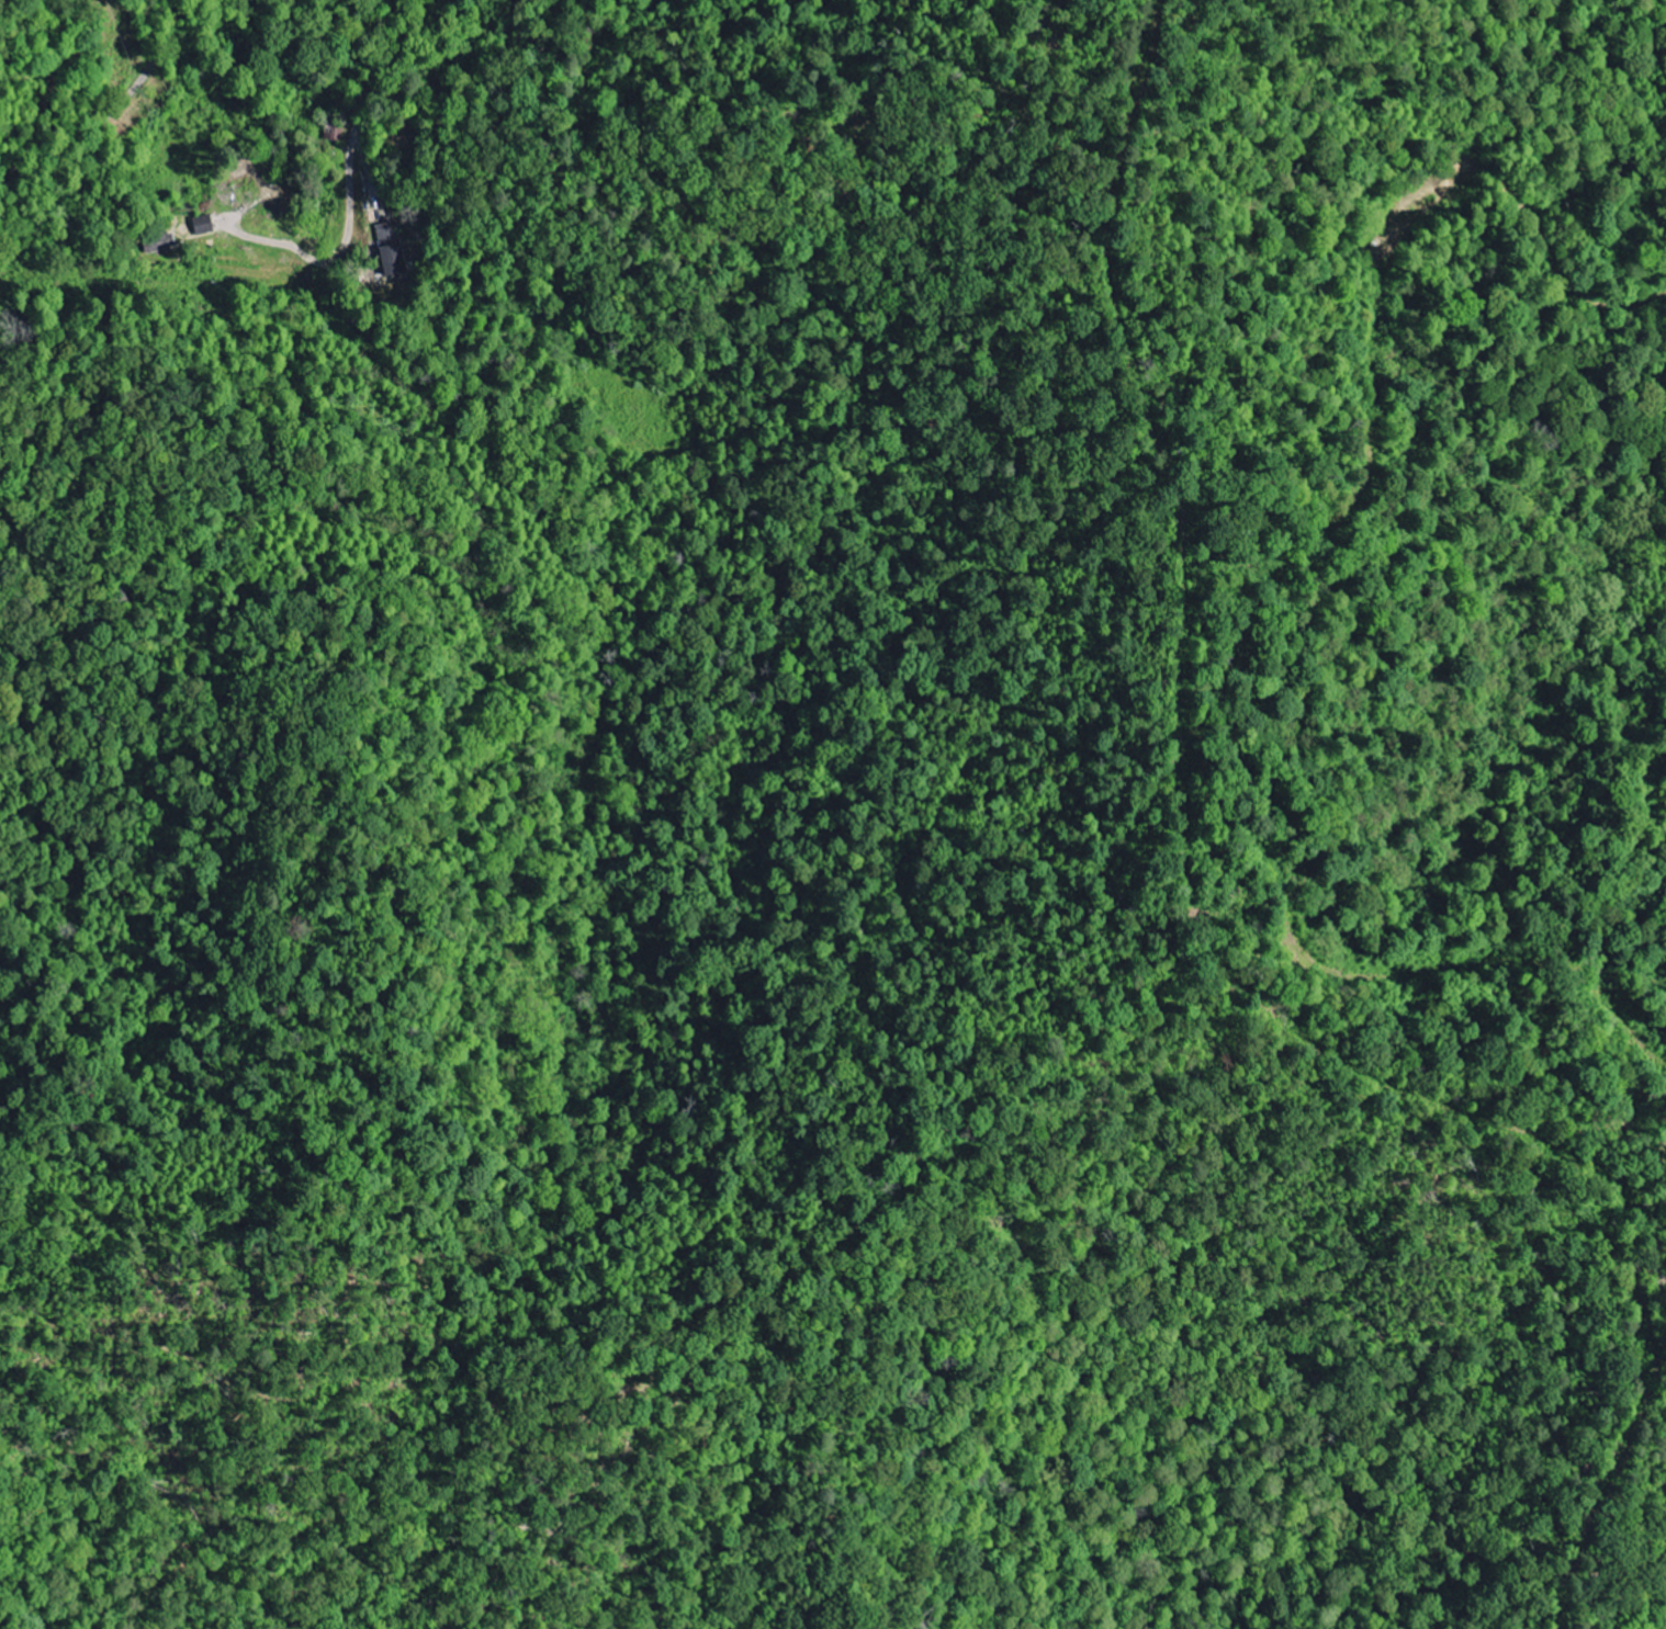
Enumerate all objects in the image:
road: (112, 114)
road: (357, 123)
road: (1568, 224)
building: (204, 226)
building: (391, 251)

